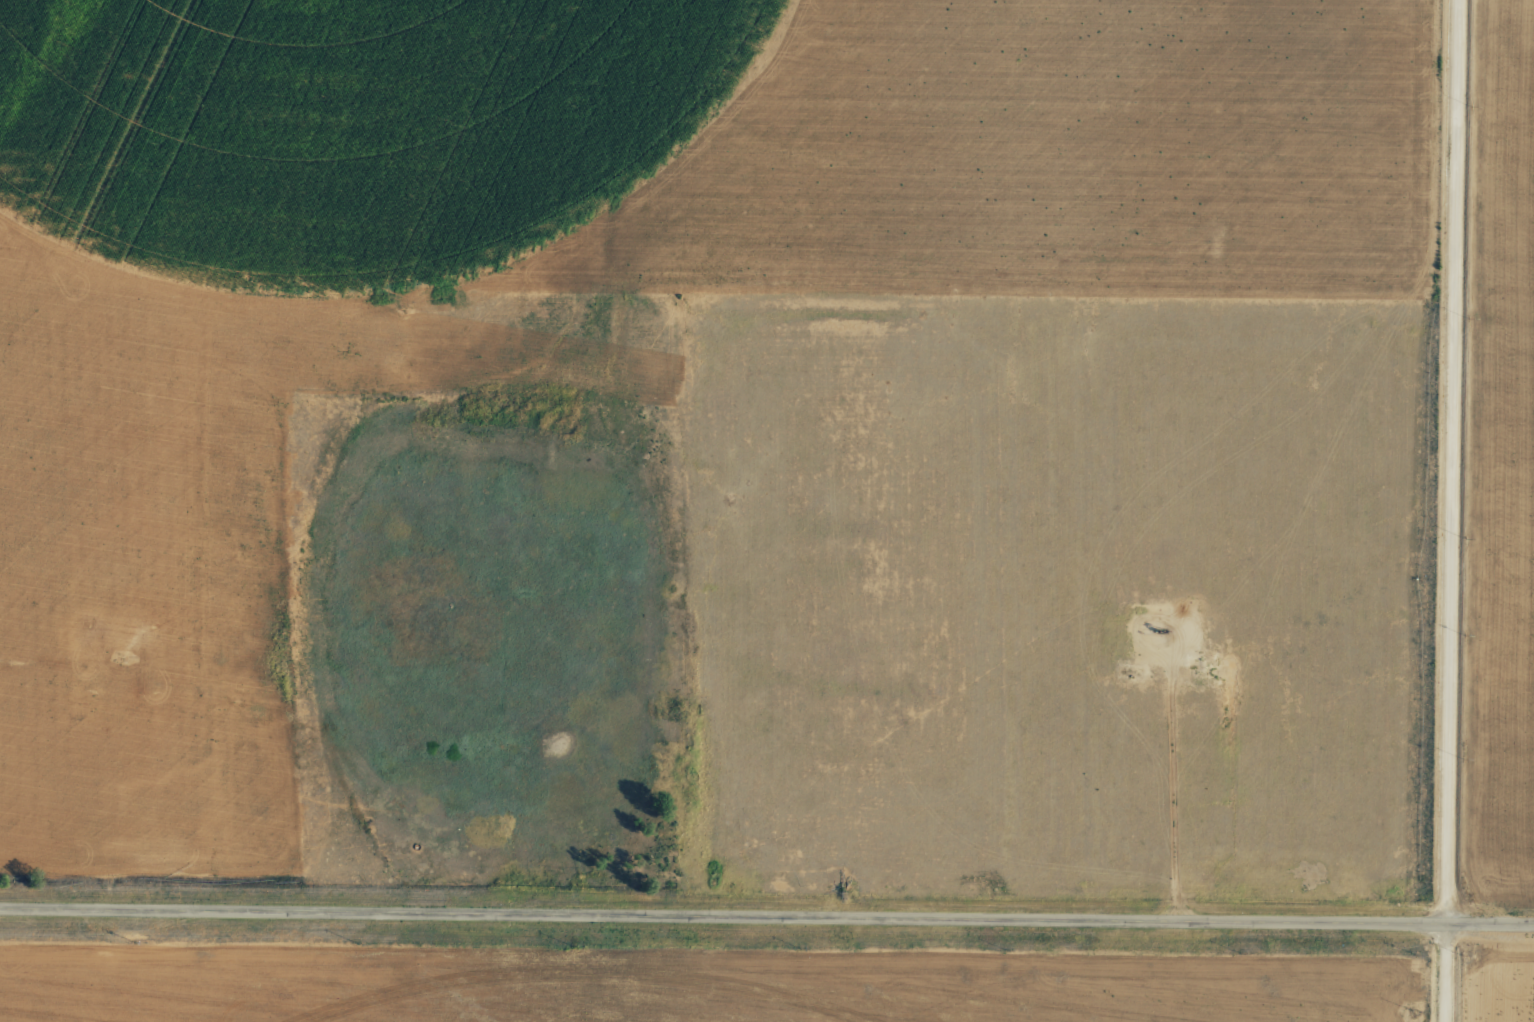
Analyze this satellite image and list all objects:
road: (1450, 511)
petroleum well: (1151, 633)
road: (766, 921)

